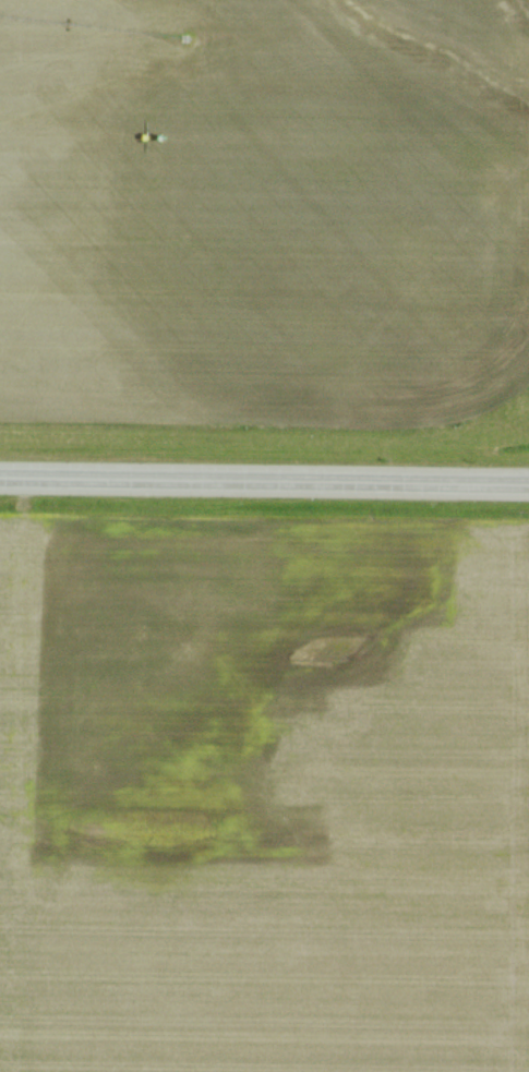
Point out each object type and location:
road: (264, 480)

